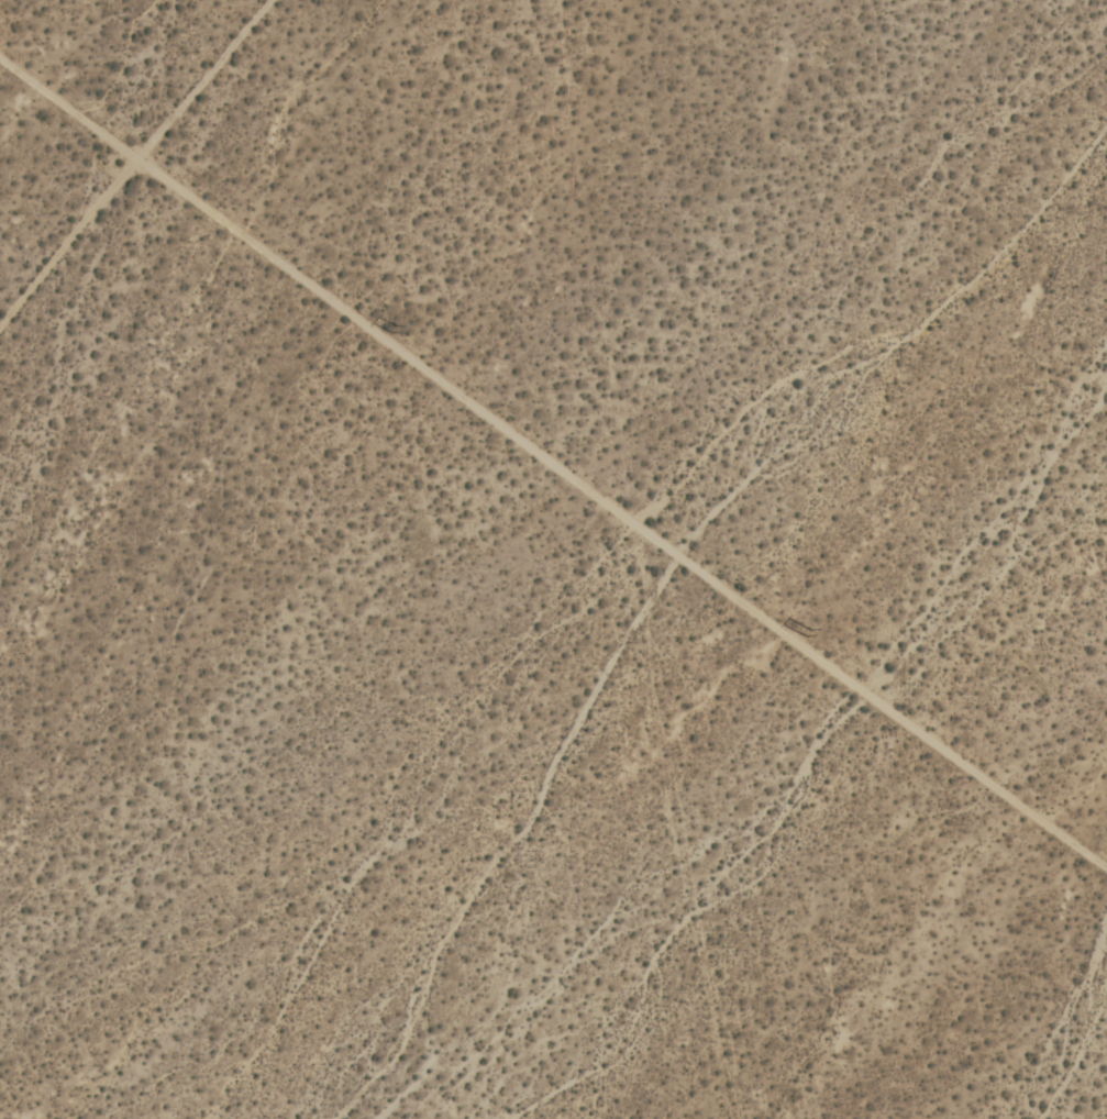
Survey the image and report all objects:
road: (67, 112)
power tower: (390, 330)
road: (620, 516)
power tower: (809, 635)

